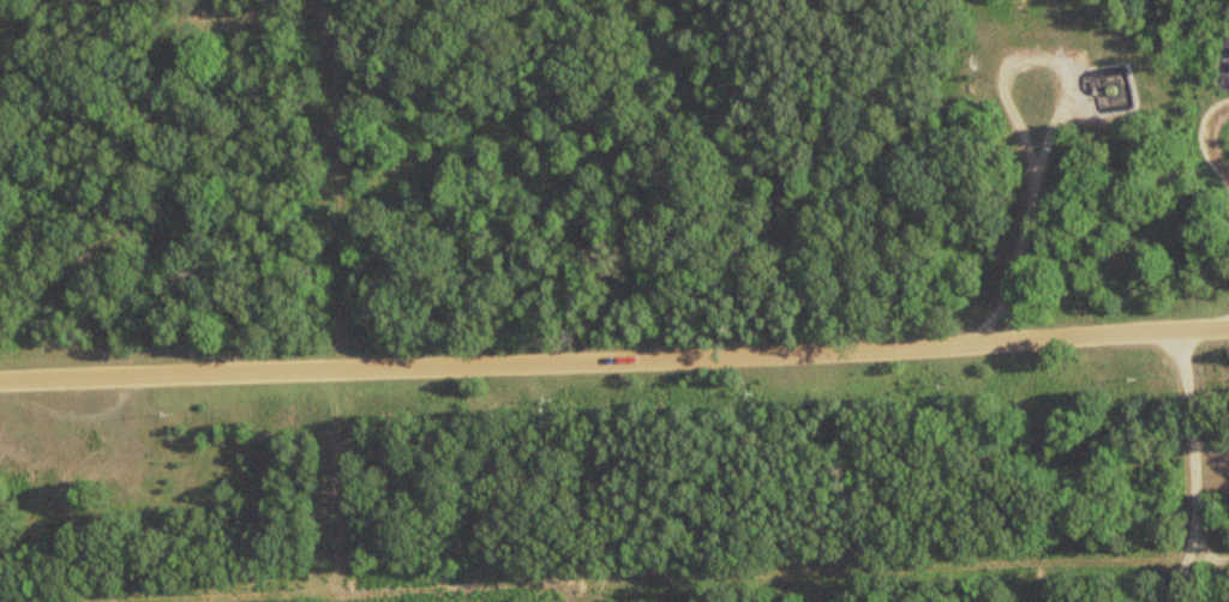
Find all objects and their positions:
building: (1228, 58)
road: (1205, 144)
road: (613, 351)
building: (90, 441)
road: (1177, 465)

